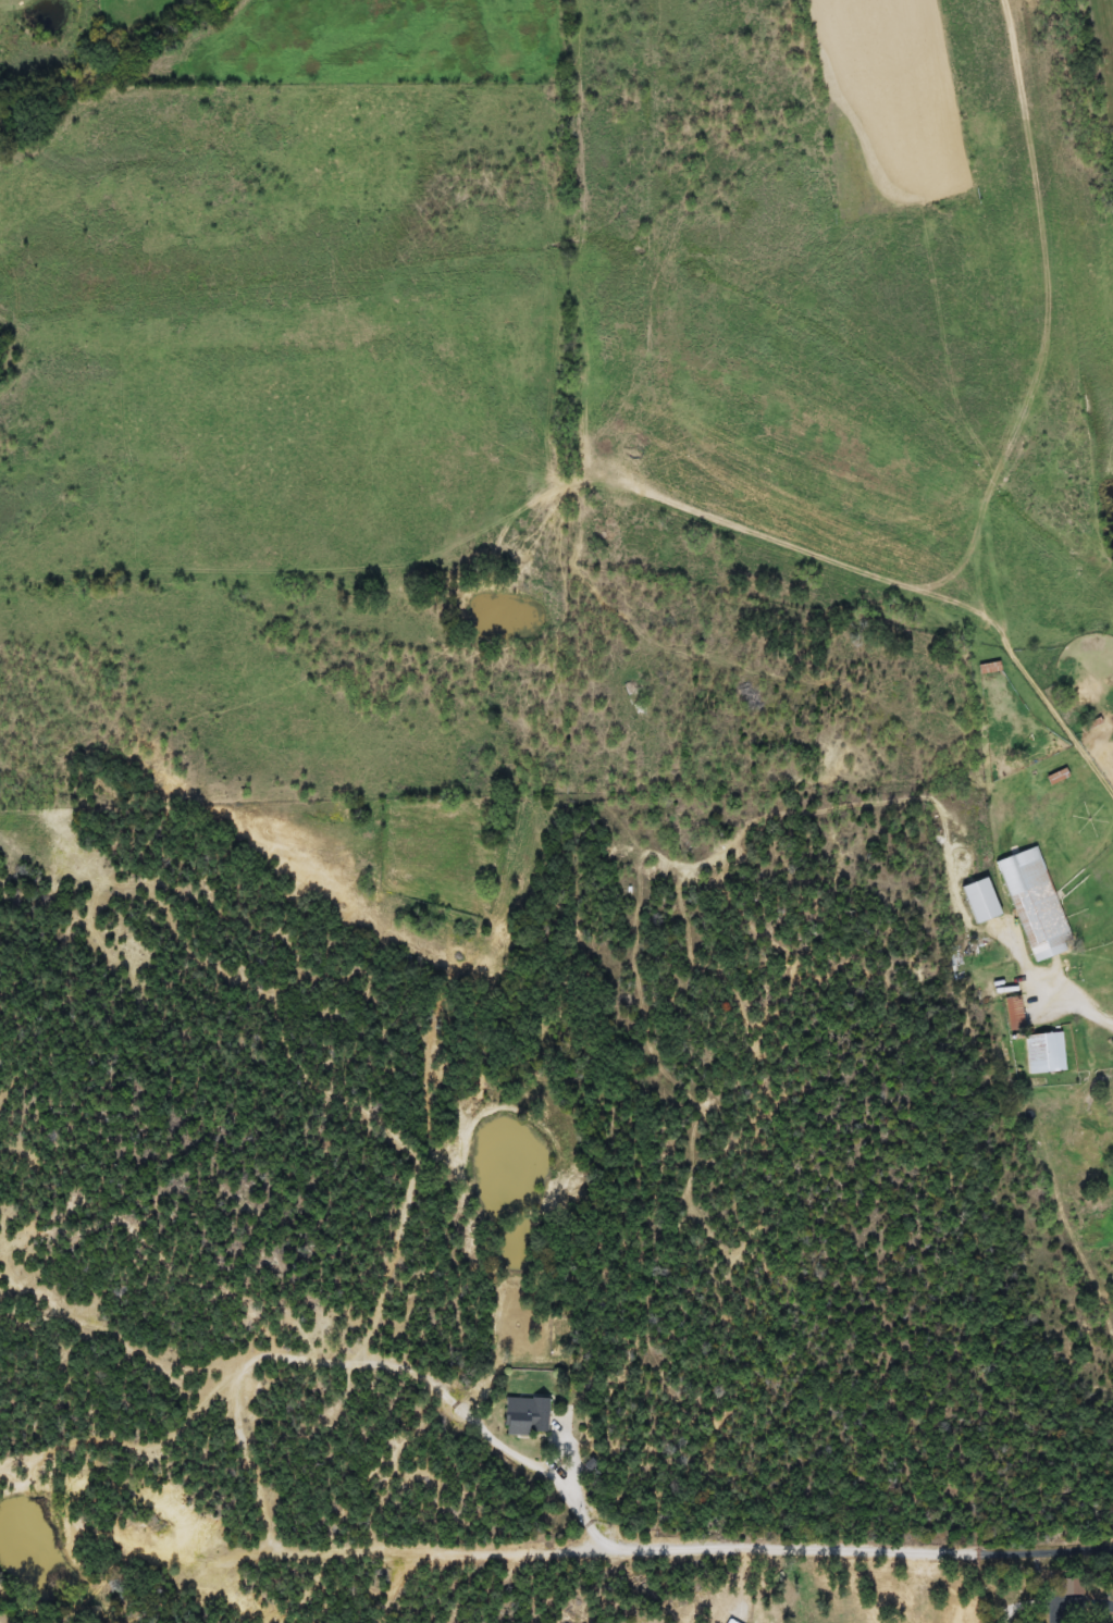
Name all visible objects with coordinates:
building: (1032, 904)
building: (981, 957)
road: (1090, 1004)
building: (1043, 1053)
building: (523, 1415)
road: (621, 1540)
road: (1087, 1608)

